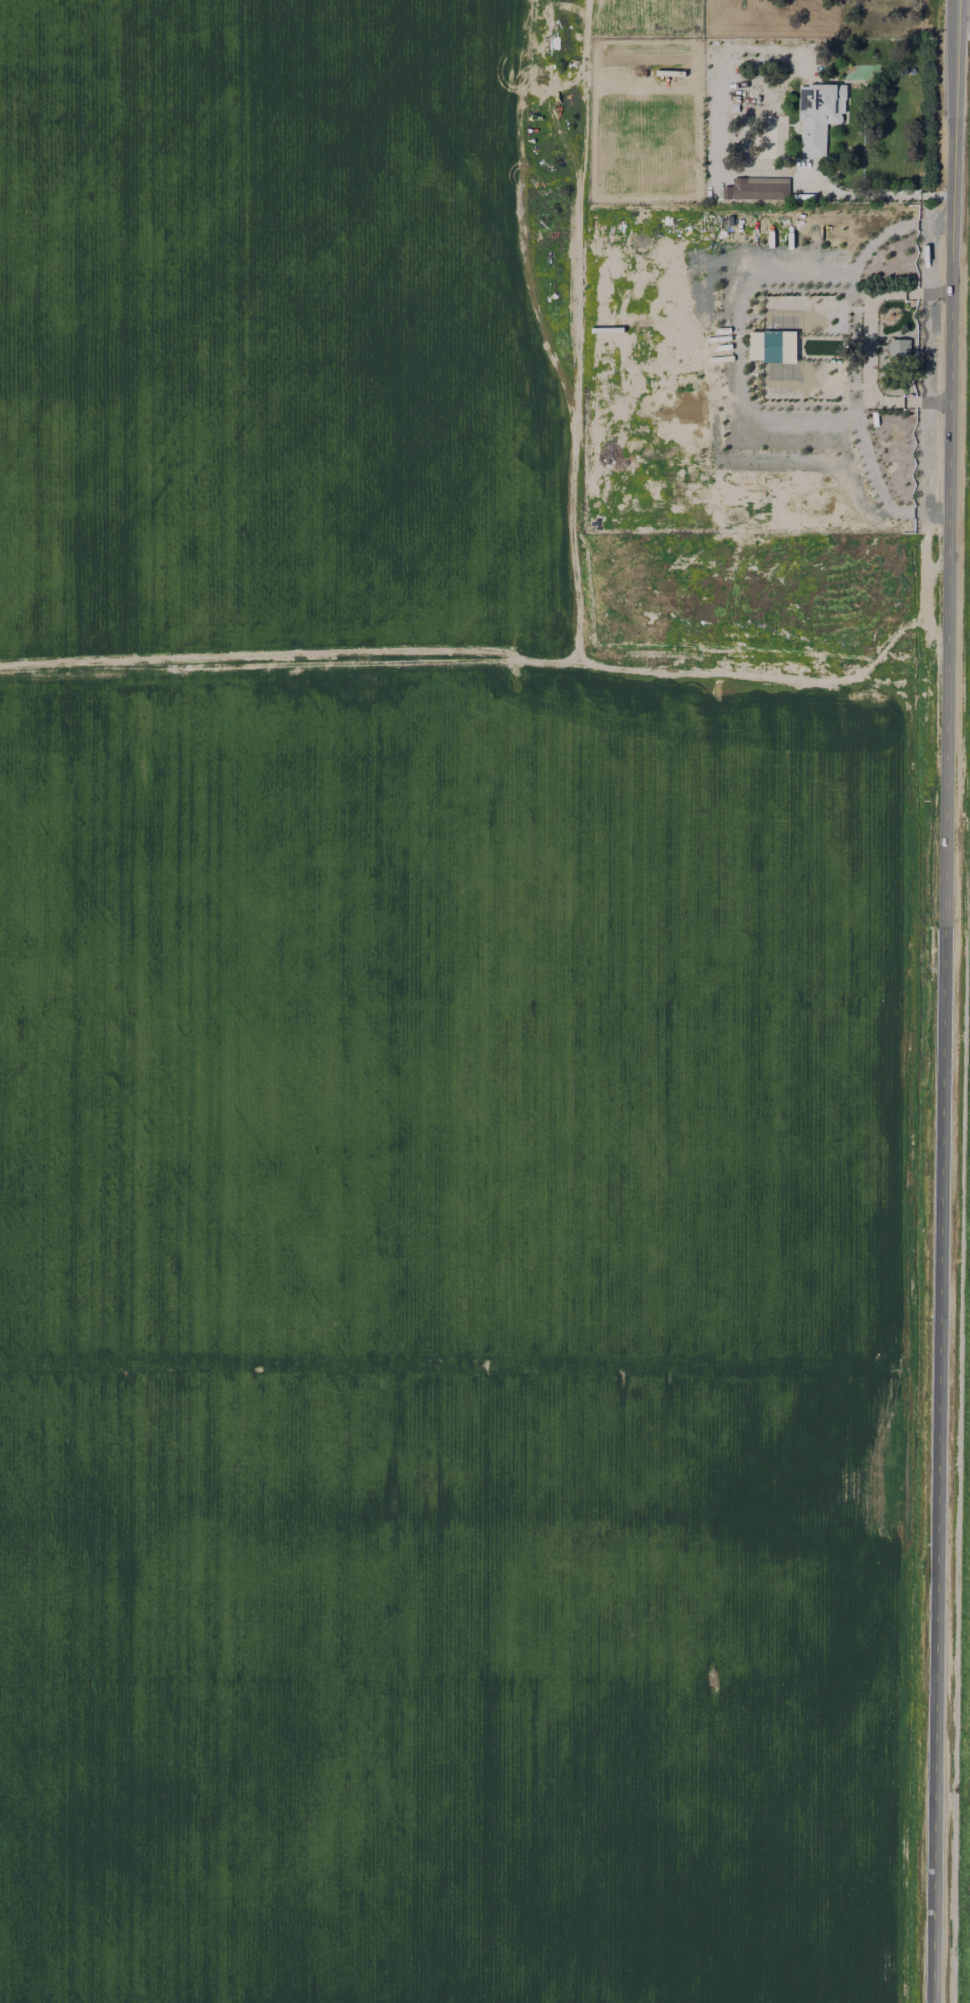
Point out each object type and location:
building: (819, 115)
building: (757, 189)
road: (872, 194)
building: (900, 347)
road: (949, 464)
road: (939, 1466)

